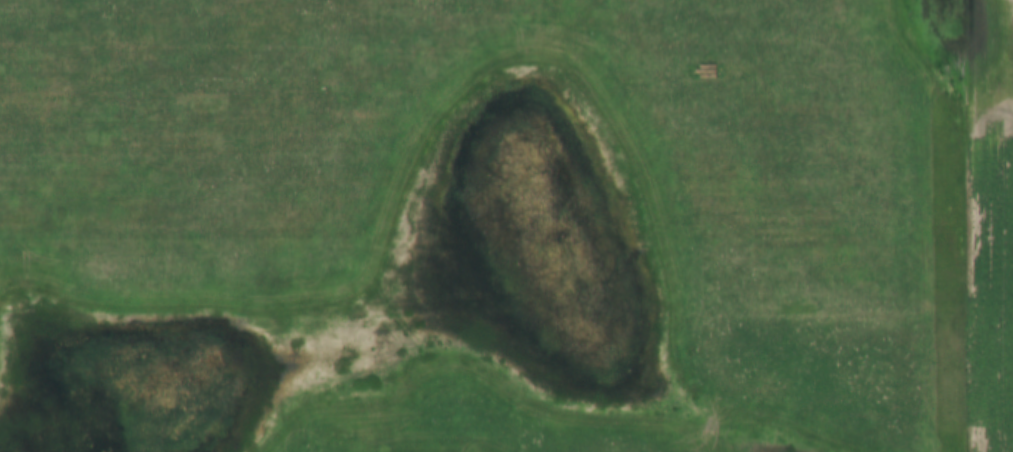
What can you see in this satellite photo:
road: (958, 218)

